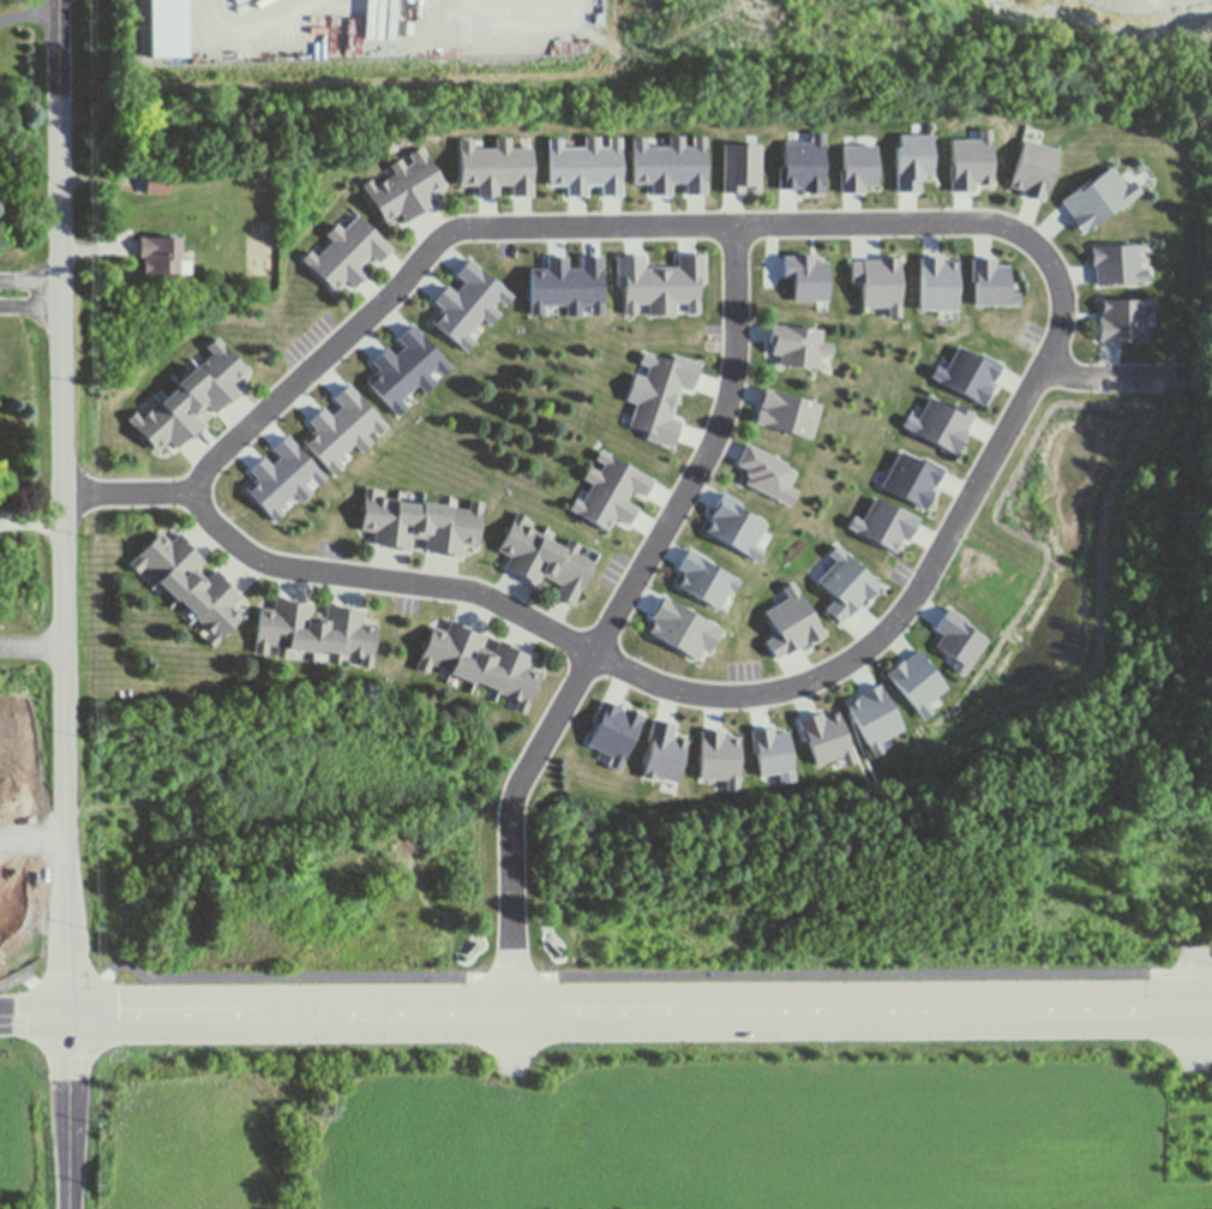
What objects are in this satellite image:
road: (1132, 0)
road: (29, 12)
building: (173, 30)
quarry: (637, 60)
building: (751, 139)
building: (816, 139)
building: (697, 142)
building: (913, 161)
building: (602, 164)
building: (650, 166)
building: (685, 166)
building: (802, 166)
building: (566, 167)
building: (742, 167)
building: (858, 167)
building: (479, 168)
building: (514, 168)
building: (1033, 168)
building: (263, 174)
building: (421, 178)
building: (152, 185)
building: (175, 186)
building: (1122, 186)
building: (392, 196)
building: (1087, 197)
road: (568, 229)
building: (360, 239)
building: (161, 252)
building: (337, 263)
building: (1117, 264)
building: (804, 276)
road: (30, 279)
building: (877, 281)
building: (989, 282)
building: (937, 283)
building: (578, 286)
building: (544, 287)
building: (479, 289)
building: (1012, 299)
road: (30, 306)
building: (592, 309)
building: (1150, 310)
building: (893, 311)
building: (454, 315)
building: (1122, 323)
building: (797, 340)
building: (422, 354)
building: (222, 366)
building: (938, 372)
building: (971, 373)
building: (395, 377)
road: (1114, 381)
building: (200, 385)
building: (182, 405)
building: (360, 411)
building: (784, 412)
building: (160, 423)
building: (911, 423)
building: (943, 424)
building: (332, 433)
building: (812, 433)
building: (602, 456)
building: (295, 467)
building: (766, 473)
building: (911, 477)
building: (618, 478)
building: (271, 487)
road: (132, 493)
building: (788, 495)
building: (602, 507)
building: (379, 516)
building: (406, 523)
building: (733, 523)
building: (853, 523)
building: (433, 525)
building: (884, 525)
building: (461, 528)
building: (530, 550)
building: (752, 552)
building: (162, 553)
building: (571, 570)
building: (181, 573)
building: (701, 576)
building: (847, 582)
building: (790, 589)
building: (203, 591)
road: (65, 604)
building: (220, 614)
building: (790, 624)
building: (275, 626)
building: (302, 627)
building: (330, 628)
building: (683, 628)
building: (356, 636)
building: (961, 638)
road: (599, 644)
road: (32, 645)
building: (442, 645)
building: (468, 656)
building: (494, 664)
building: (520, 678)
building: (919, 681)
road: (738, 699)
building: (871, 716)
building: (612, 728)
building: (823, 737)
building: (875, 748)
building: (664, 750)
building: (770, 750)
building: (718, 753)
building: (616, 760)
building: (847, 760)
building: (730, 780)
building: (23, 819)
road: (595, 976)
road: (1204, 1006)
road: (1204, 1007)
road: (1196, 1010)
road: (598, 1012)
crop: (650, 1124)
crop: (26, 1125)

